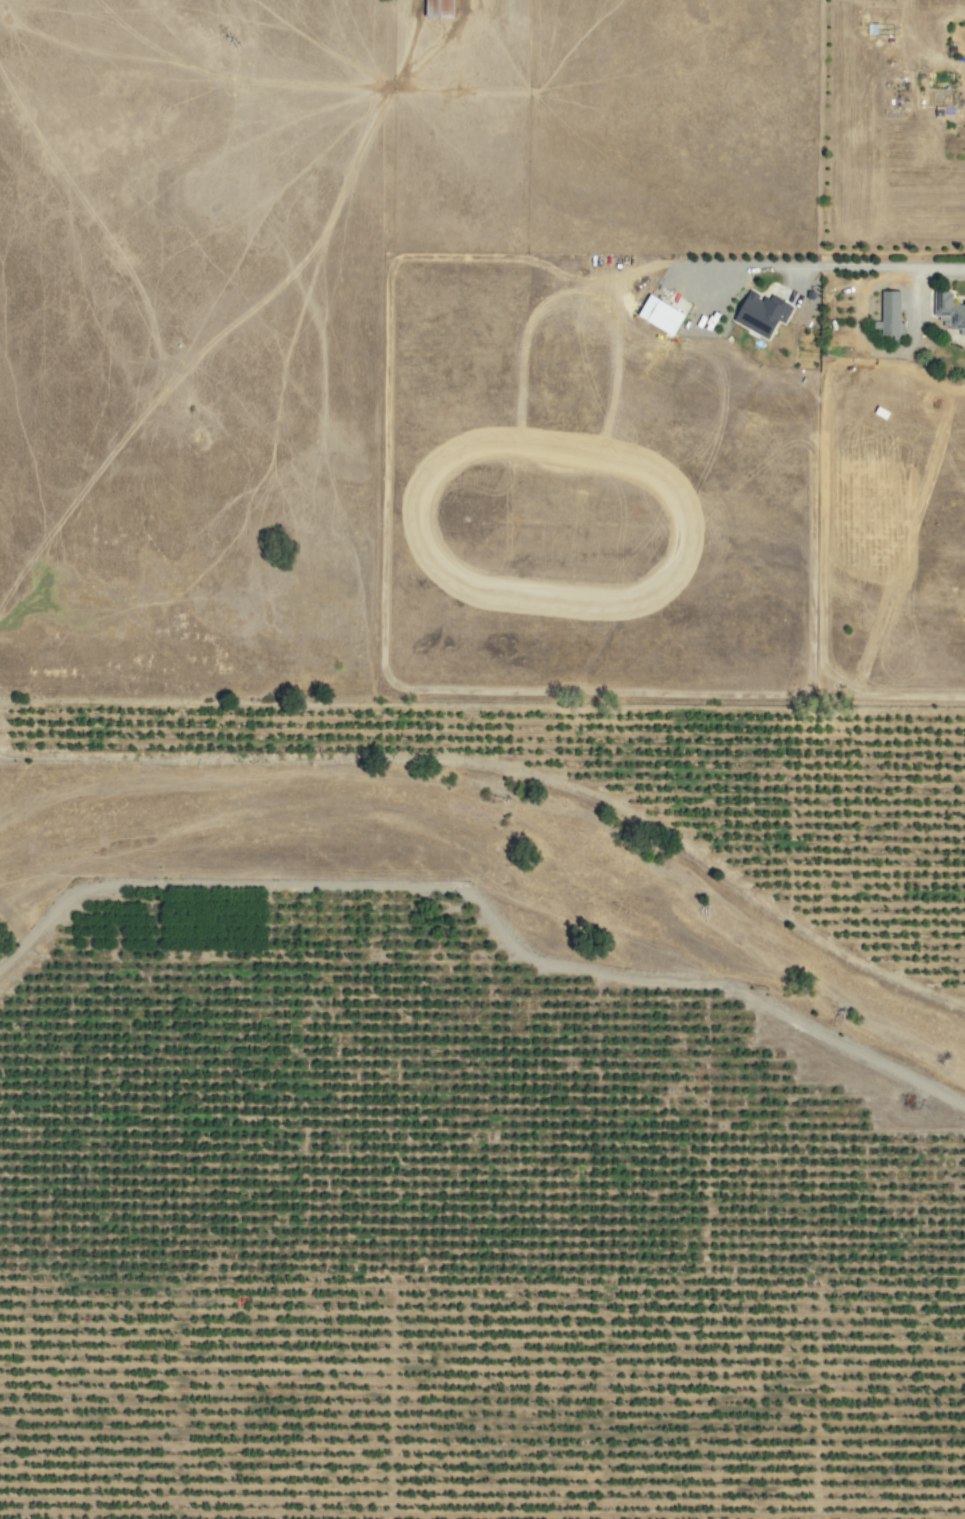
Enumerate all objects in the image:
building: (434, 8)
road: (826, 266)
building: (948, 310)
building: (758, 313)
building: (888, 314)
building: (655, 315)
road: (20, 953)

